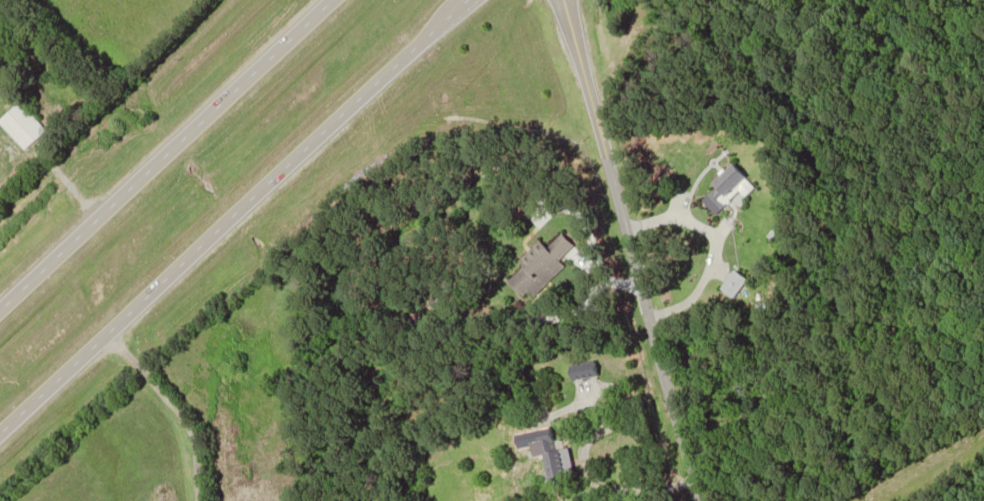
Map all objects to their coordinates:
building: (25, 125)
road: (167, 154)
building: (731, 188)
road: (234, 215)
road: (628, 250)
building: (732, 285)
building: (551, 454)

